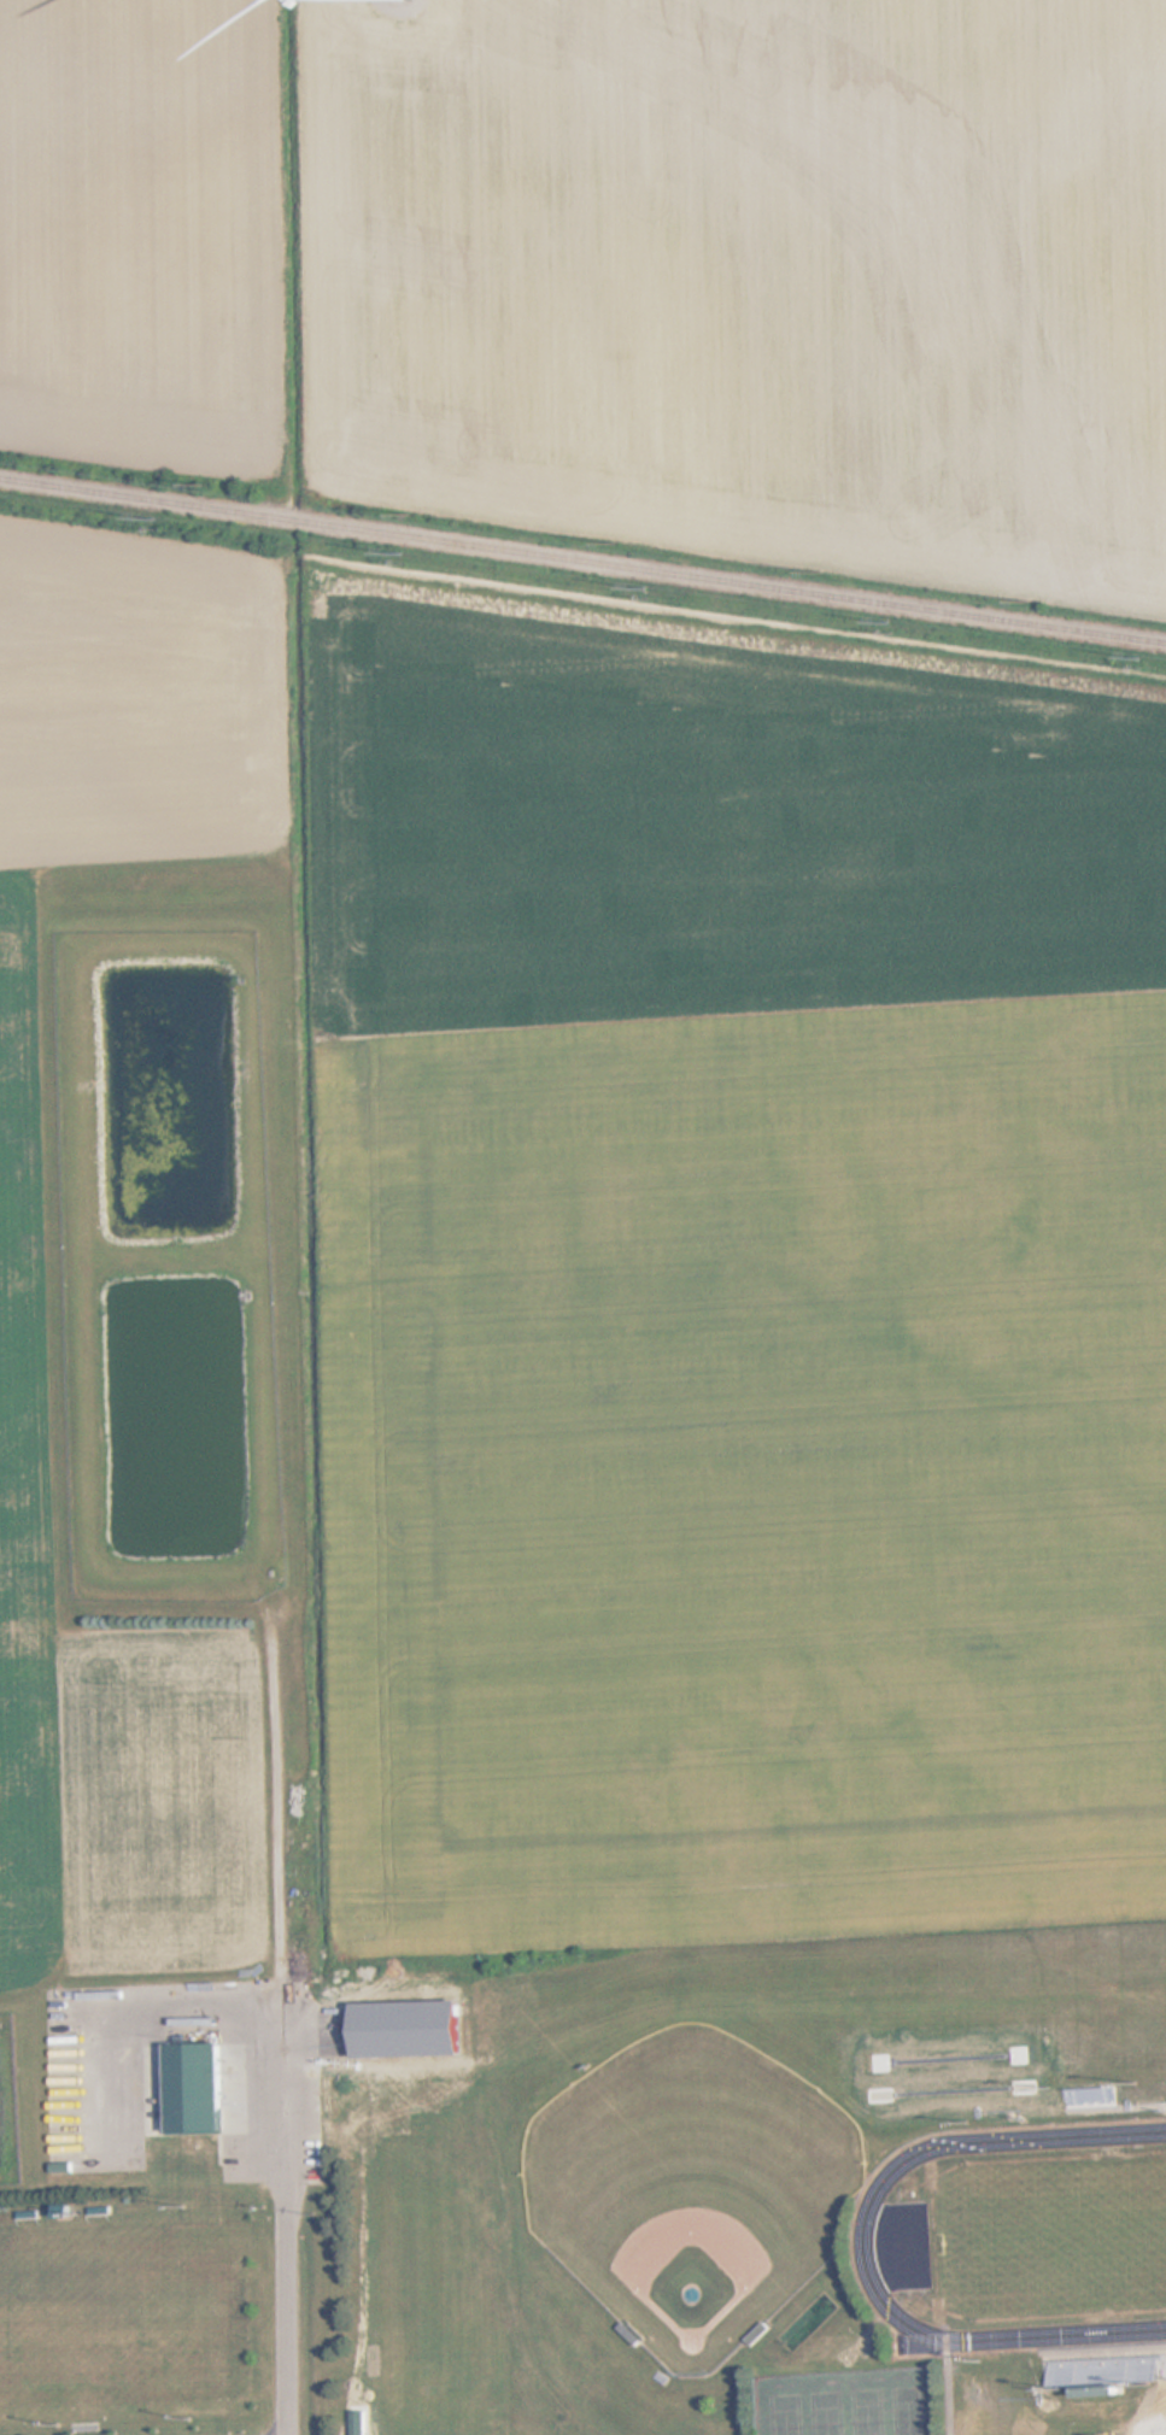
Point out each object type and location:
railway: (582, 559)
parking lot: (94, 2079)
building: (199, 2088)
building: (1094, 2097)
park: (692, 2187)
building: (100, 2207)
building: (28, 2211)
building: (66, 2211)
road: (286, 2212)
track: (863, 2231)
park: (1056, 2237)
park: (111, 2314)
building: (1103, 2370)
park: (846, 2401)
building: (84, 2427)

